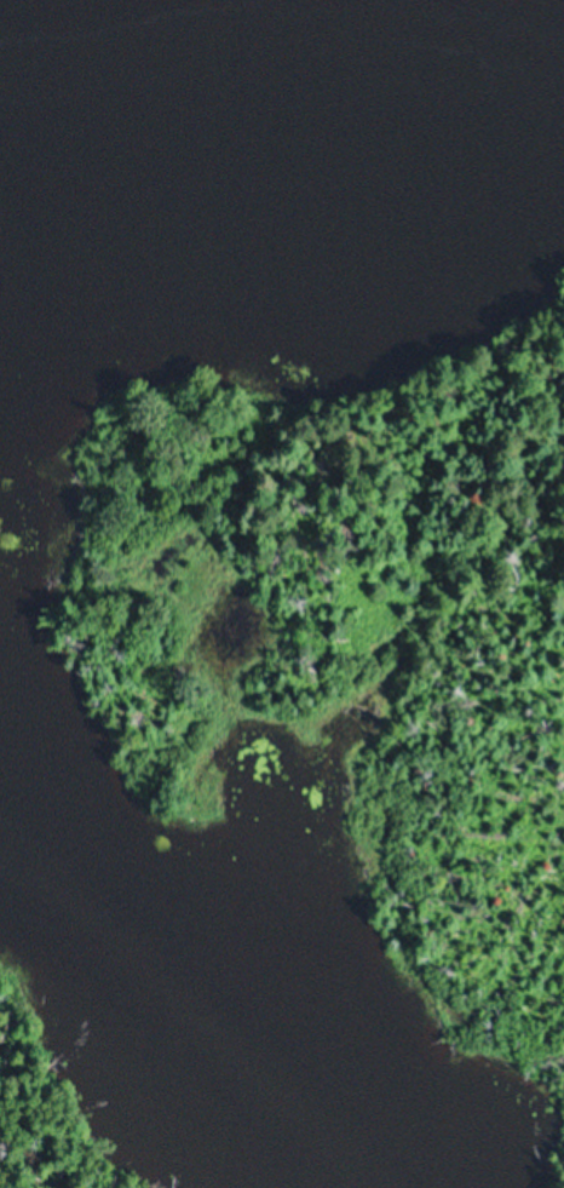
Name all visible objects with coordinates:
river: (235, 125)

